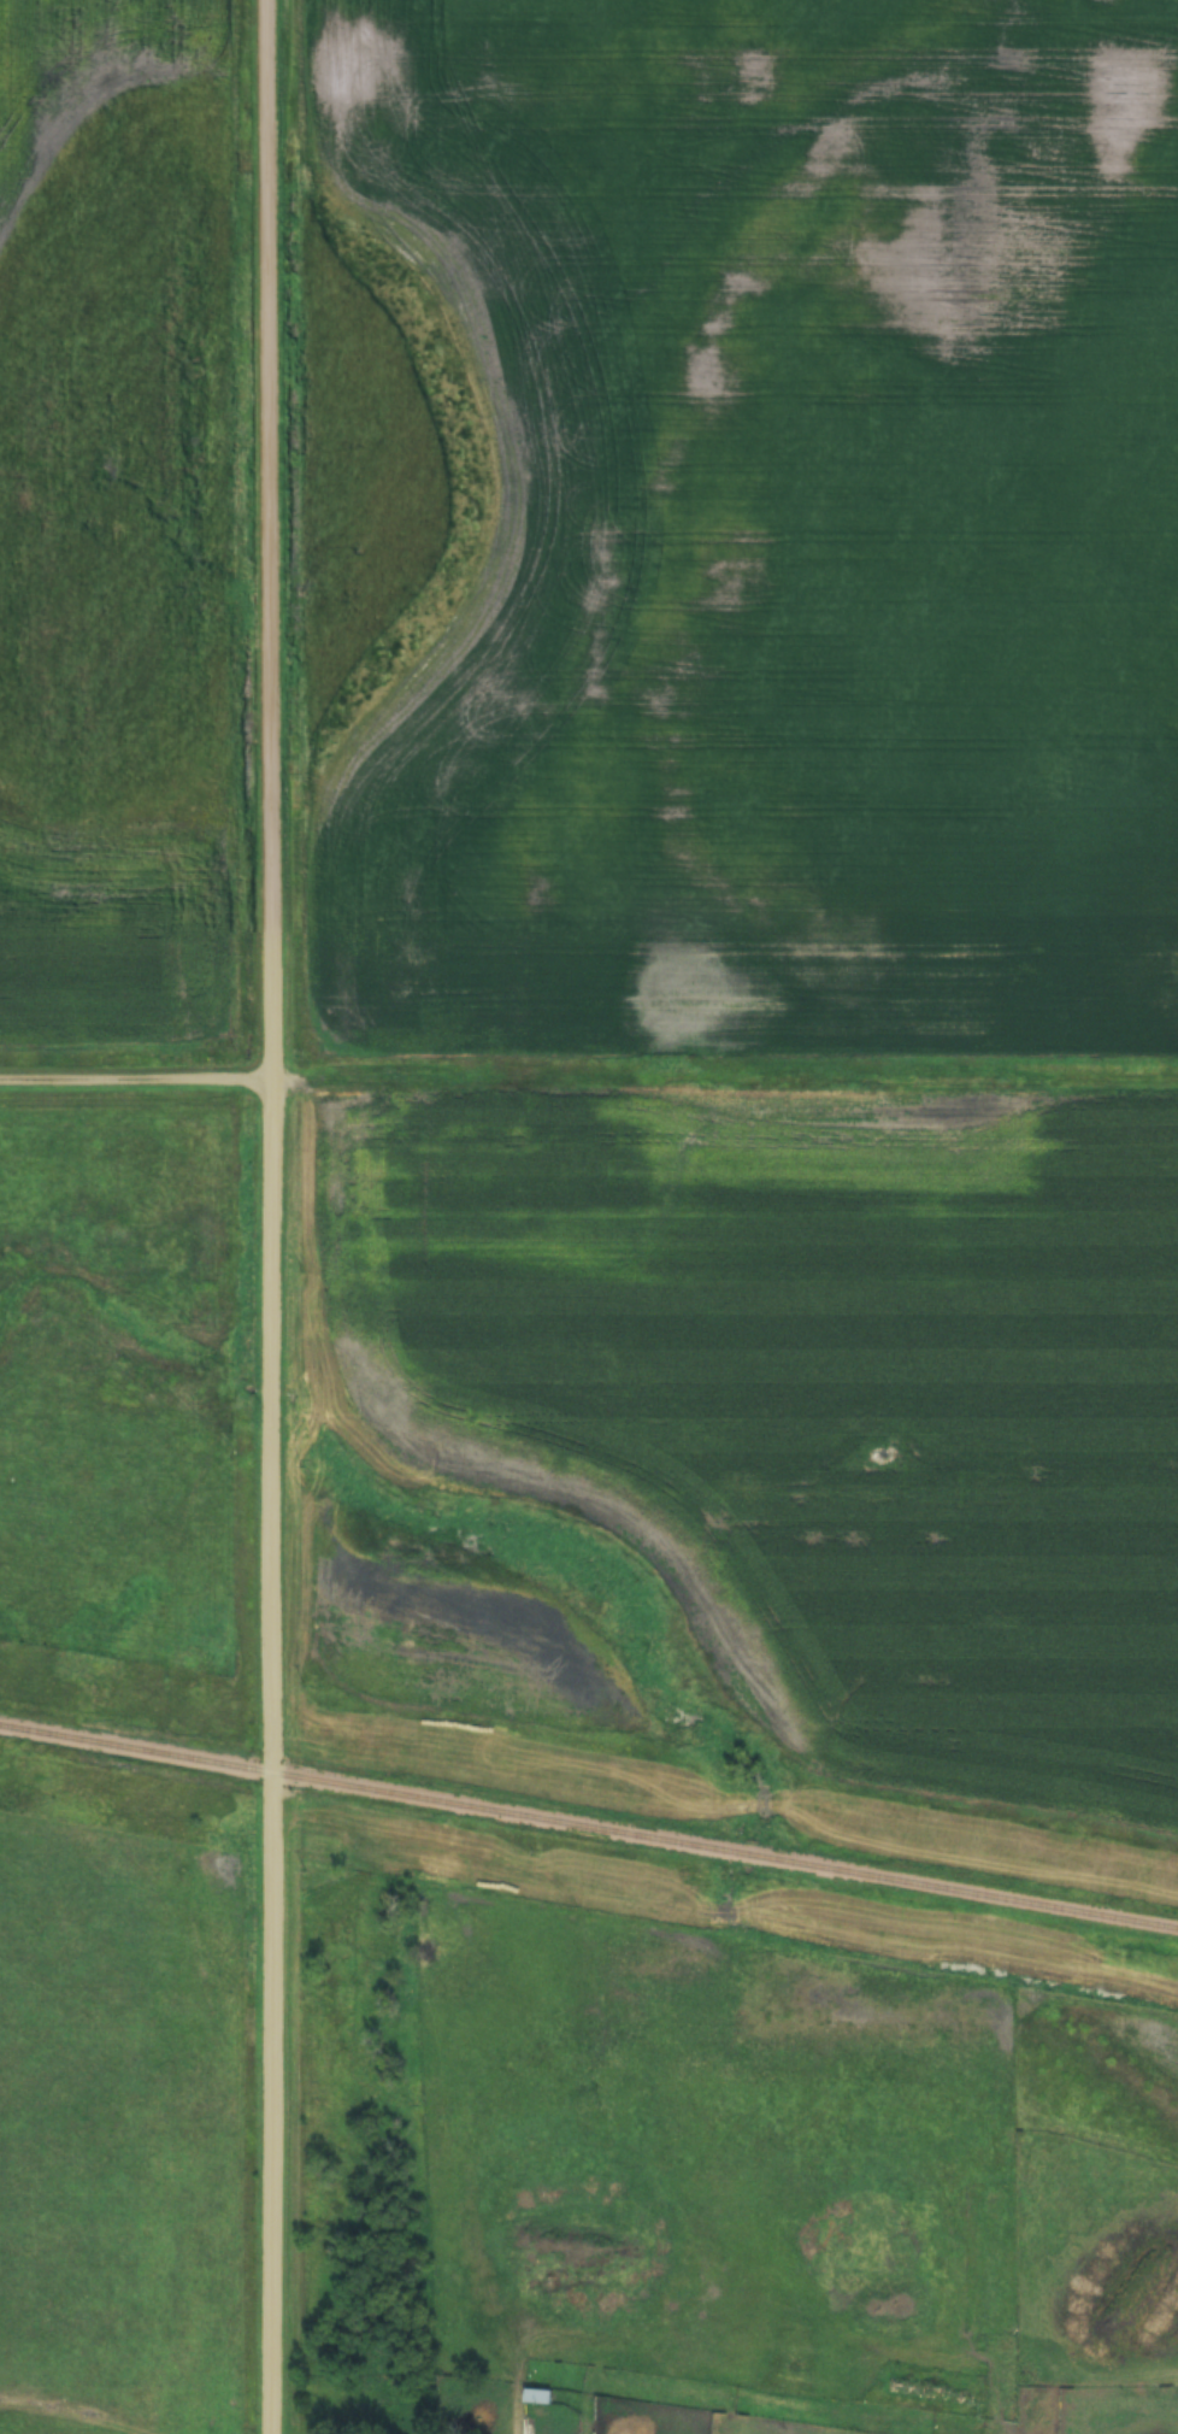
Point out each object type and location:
road: (137, 1082)
road: (275, 1217)
railway: (589, 1825)
building: (537, 2397)

